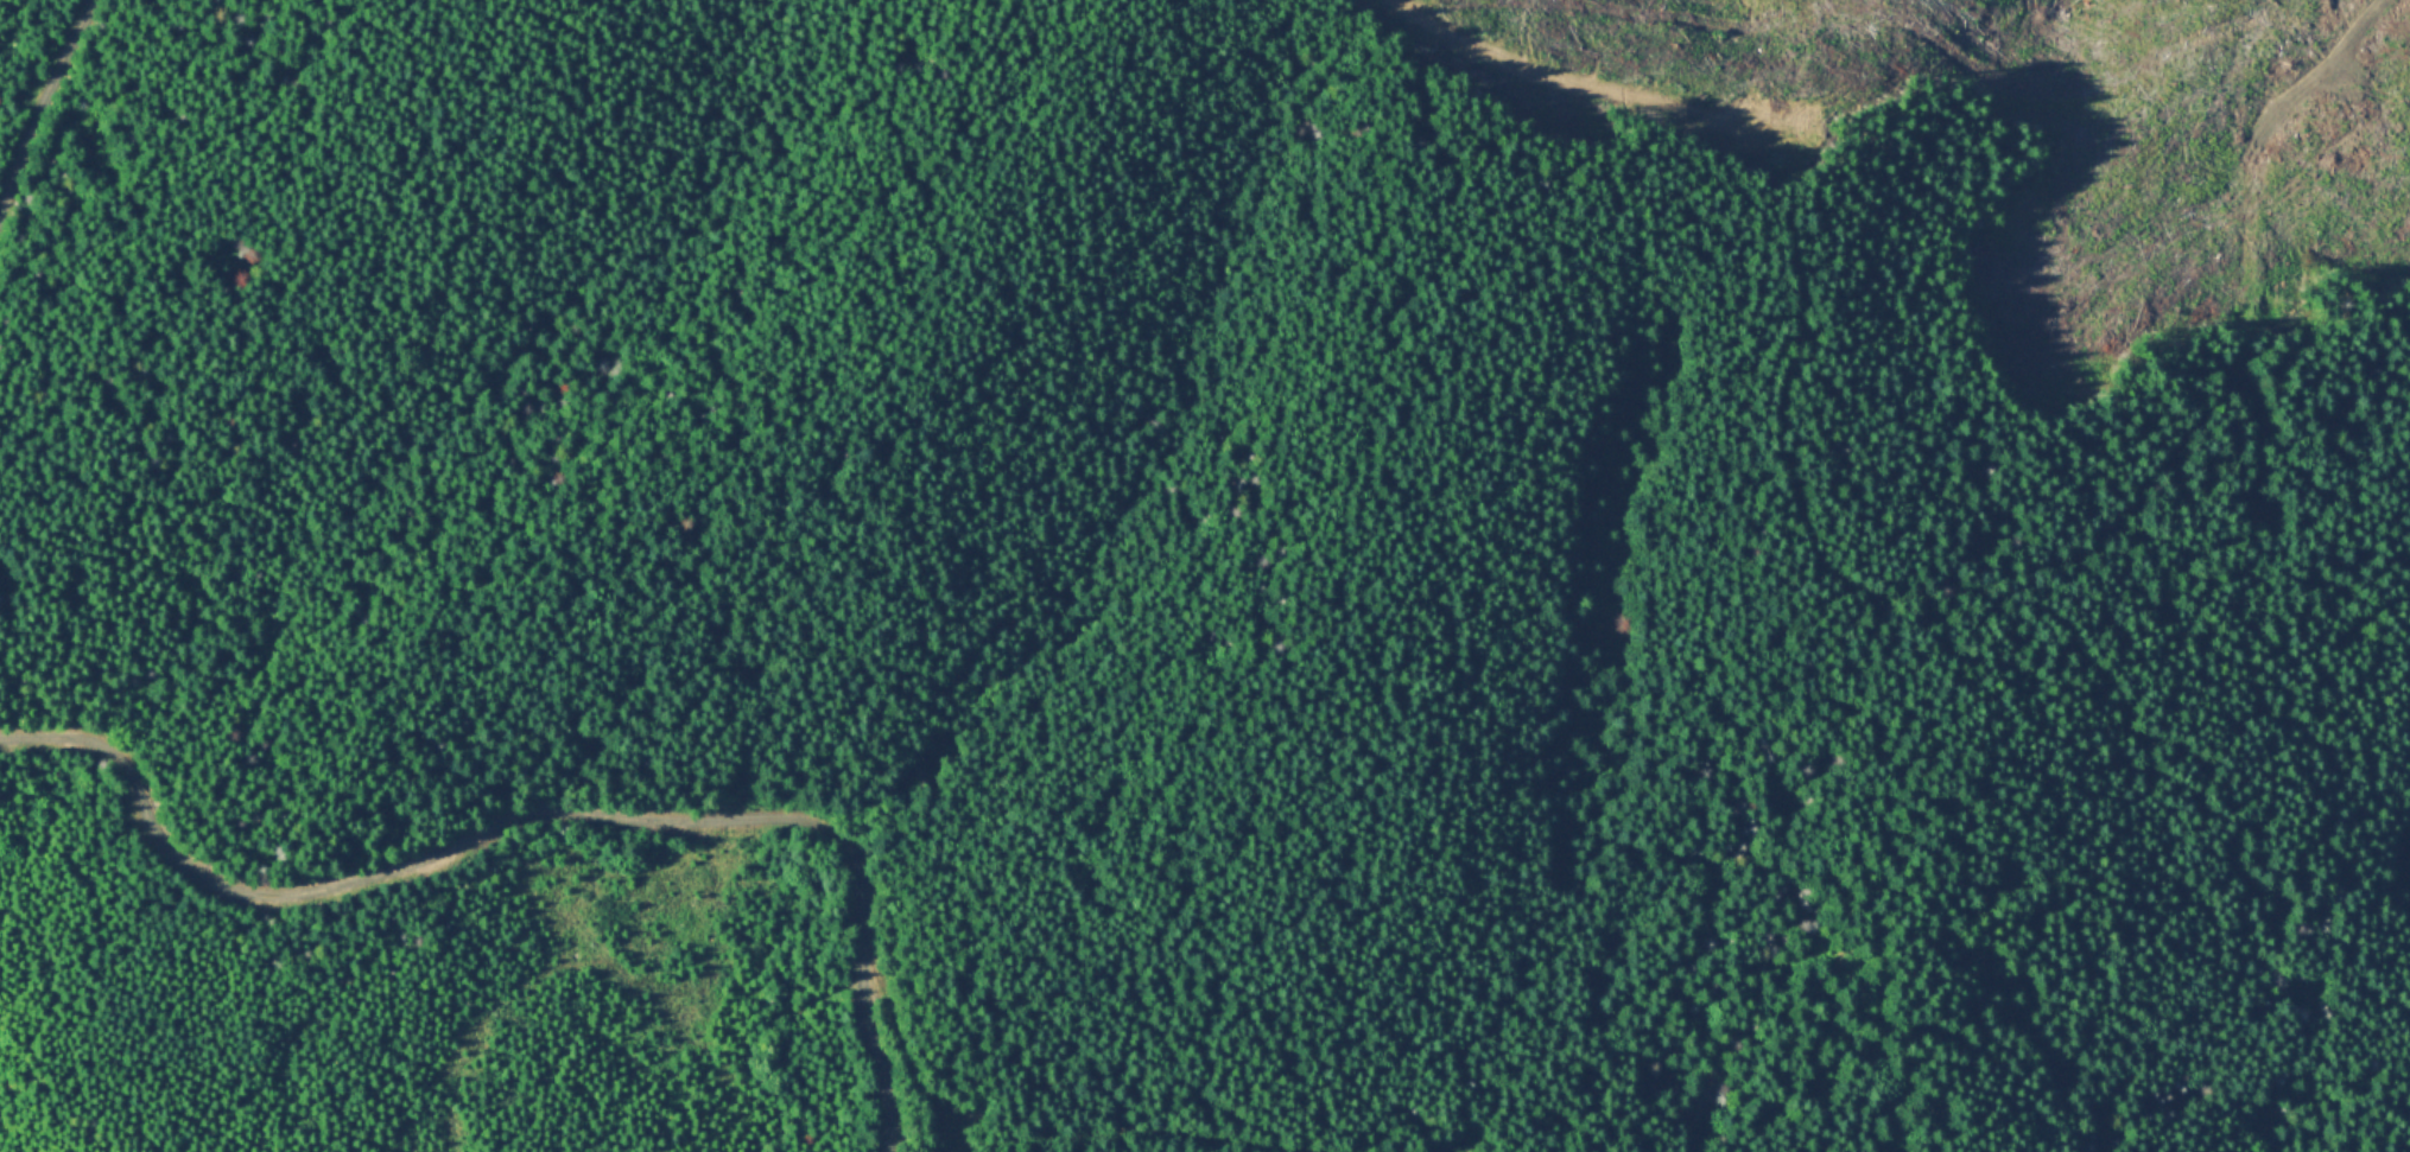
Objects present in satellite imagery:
road: (44, 125)
road: (1860, 587)
road: (543, 810)
road: (1066, 1135)

